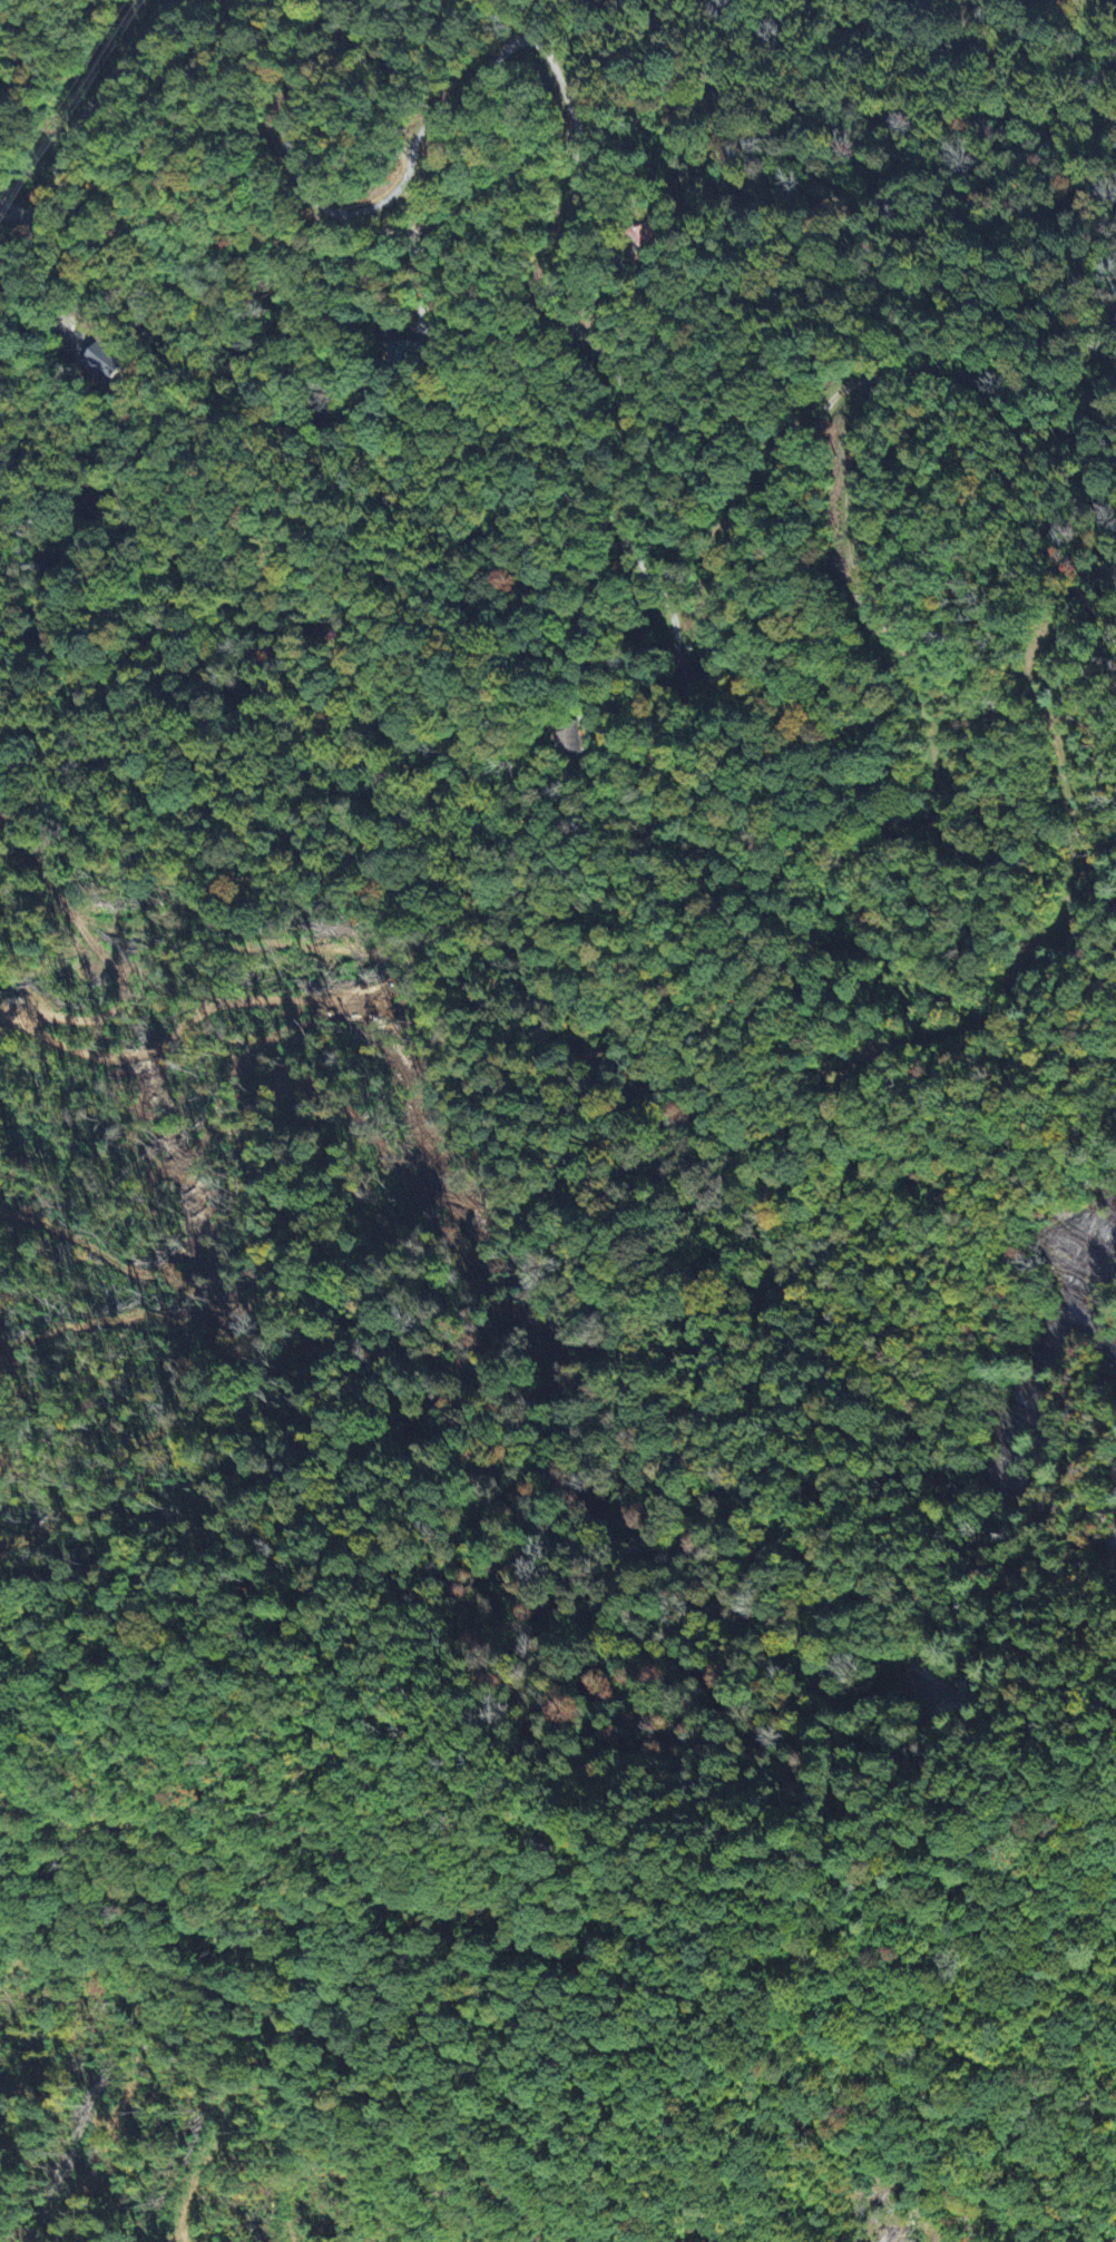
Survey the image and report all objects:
road: (1104, 4)
road: (85, 114)
road: (32, 296)
building: (106, 360)
road: (626, 404)
building: (570, 741)

